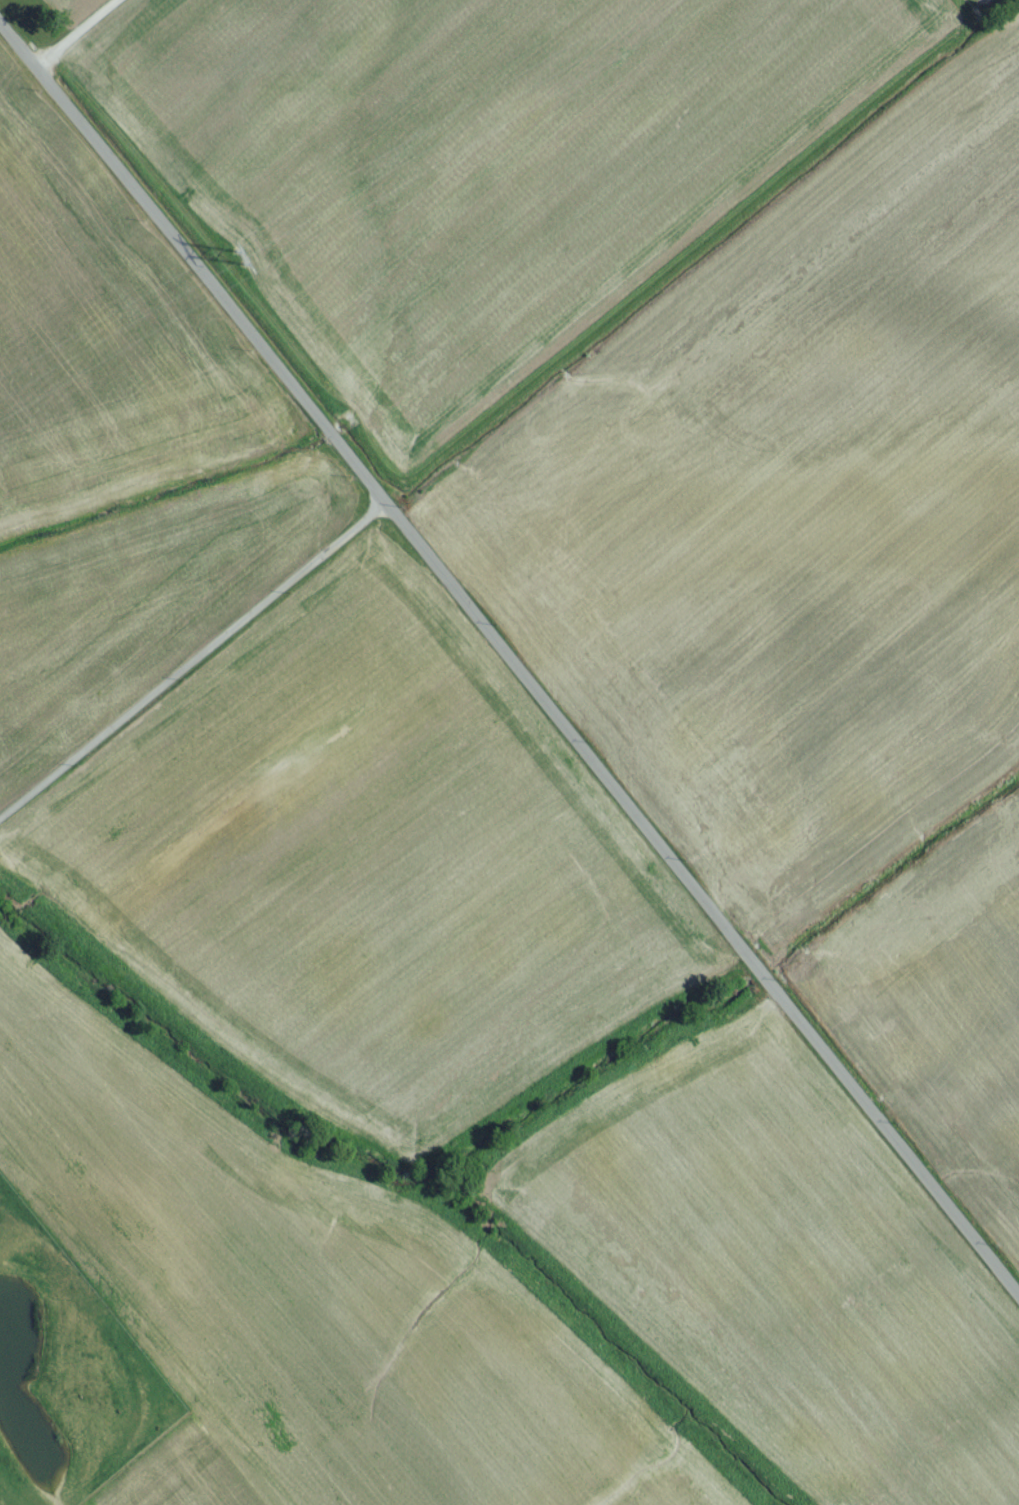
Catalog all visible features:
road: (76, 35)
power tower: (242, 263)
road: (191, 653)
road: (512, 665)

